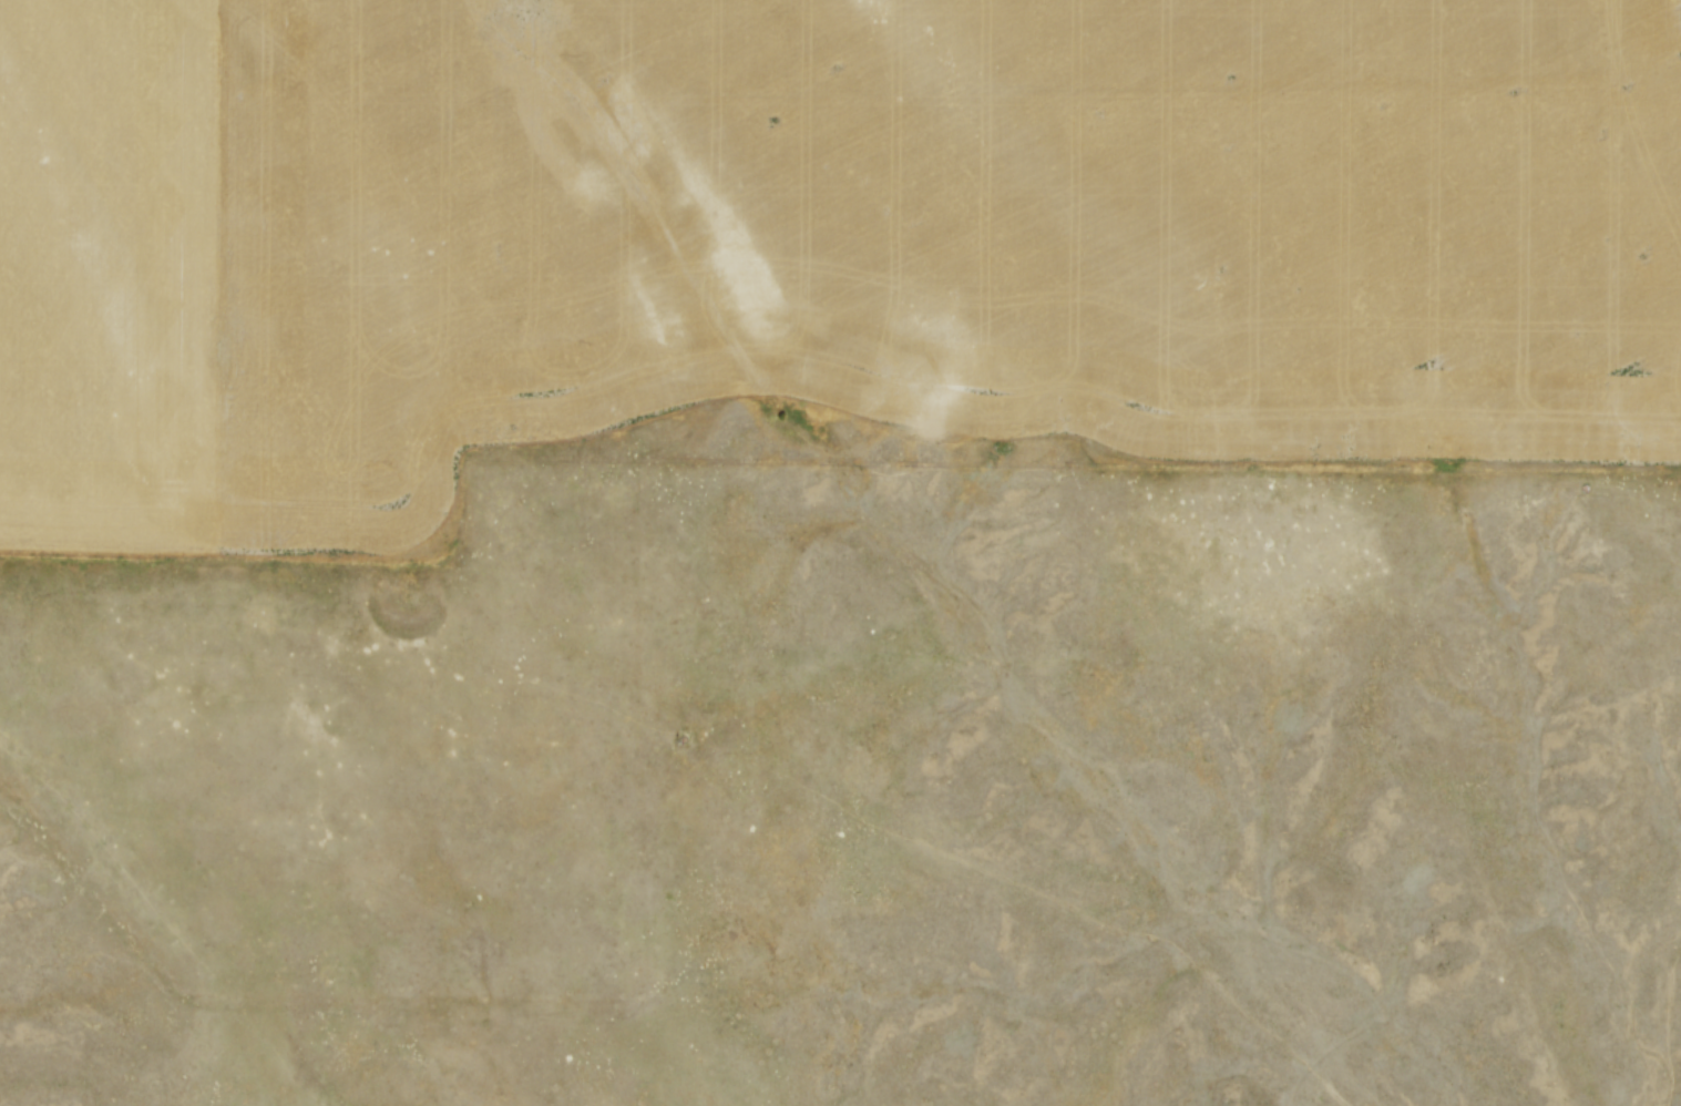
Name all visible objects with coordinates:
crop: (810, 242)

